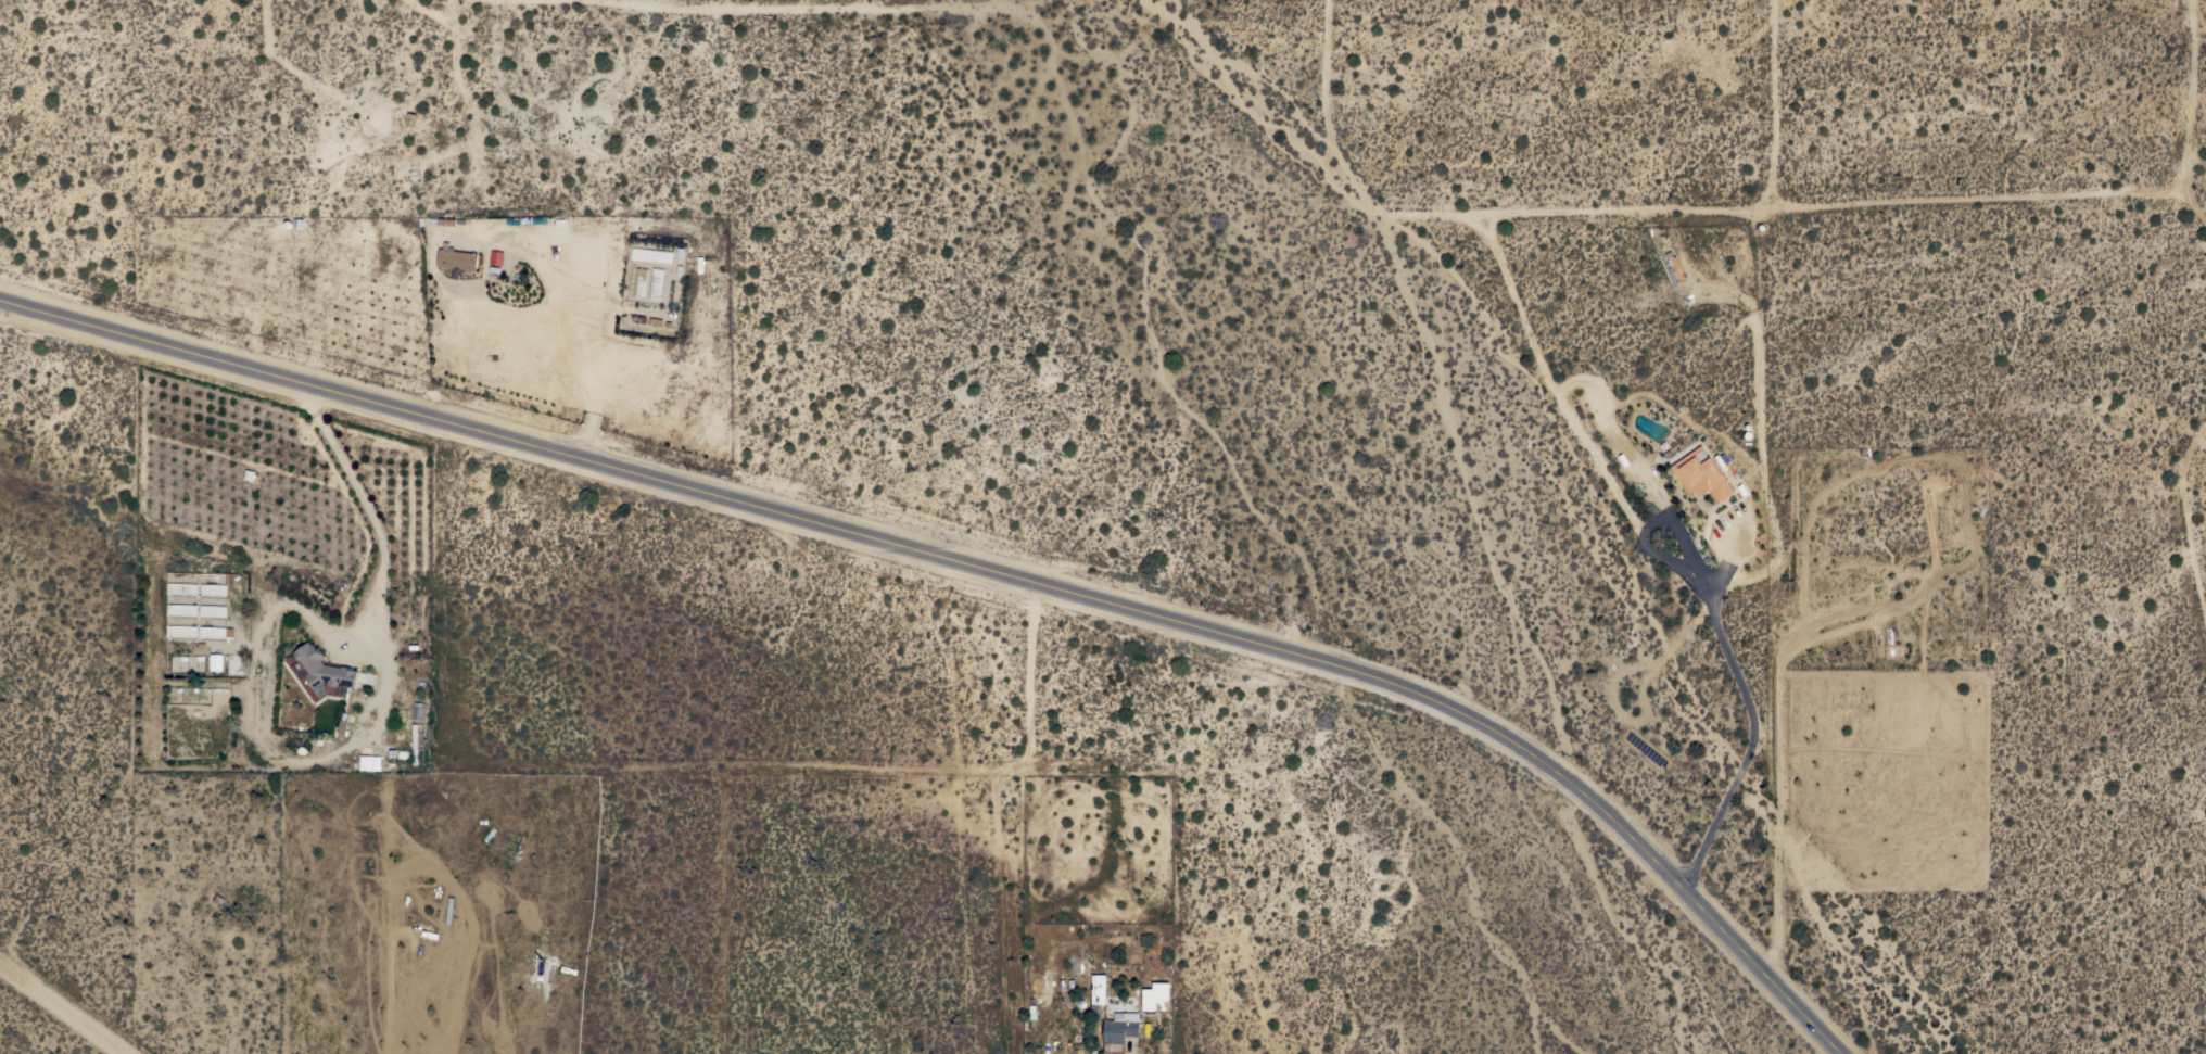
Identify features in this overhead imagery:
road: (801, 8)
building: (650, 254)
building: (455, 259)
building: (1675, 266)
building: (638, 281)
building: (656, 282)
road: (598, 347)
building: (1723, 463)
building: (1700, 473)
road: (381, 510)
road: (982, 562)
building: (181, 588)
building: (212, 589)
building: (181, 610)
building: (212, 611)
building: (180, 631)
building: (214, 632)
building: (216, 662)
building: (321, 670)
road: (1776, 690)
road: (1754, 721)
building: (414, 744)
building: (364, 761)
building: (1155, 998)
road: (75, 1004)
building: (1118, 1028)

